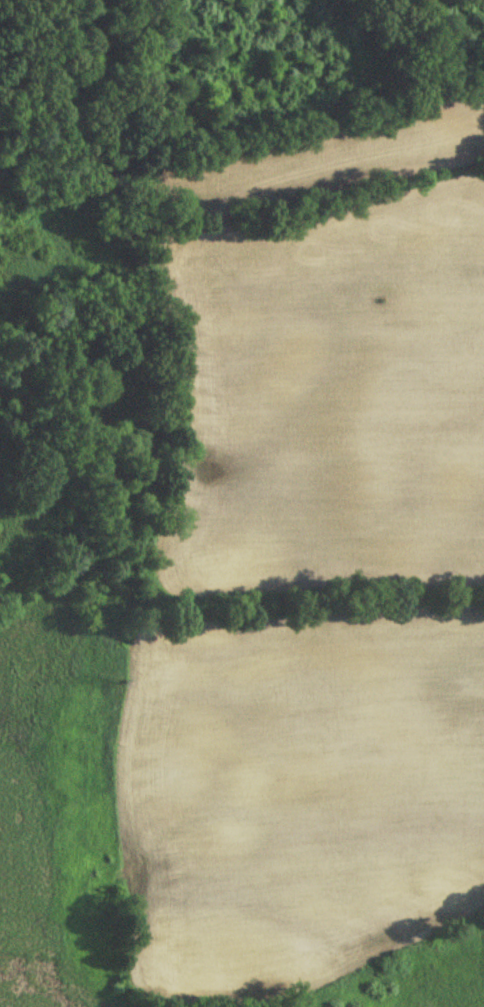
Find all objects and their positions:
crop: (327, 396)
crop: (299, 791)

